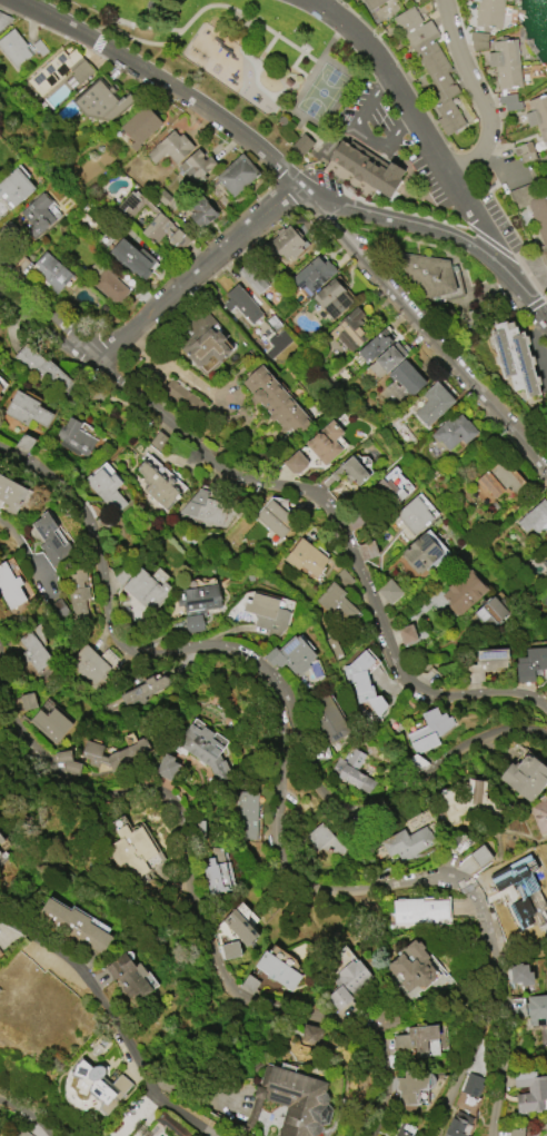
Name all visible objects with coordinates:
building: (371, 3)
building: (150, 4)
road: (200, 4)
building: (488, 13)
building: (3, 19)
road: (237, 23)
road: (143, 24)
building: (13, 48)
park: (239, 58)
road: (314, 61)
road: (290, 65)
building: (431, 67)
building: (58, 70)
building: (507, 70)
road: (253, 75)
road: (161, 81)
park: (320, 90)
road: (479, 92)
road: (335, 98)
building: (100, 101)
building: (537, 116)
road: (418, 119)
building: (139, 126)
road: (308, 132)
road: (358, 136)
building: (298, 142)
road: (330, 142)
building: (170, 148)
building: (524, 151)
building: (196, 166)
building: (367, 166)
road: (298, 172)
building: (237, 175)
building: (13, 187)
building: (201, 211)
building: (534, 211)
building: (37, 215)
building: (150, 220)
road: (435, 231)
building: (286, 244)
building: (132, 258)
road: (193, 270)
building: (50, 271)
building: (312, 274)
building: (252, 277)
building: (431, 277)
building: (107, 283)
building: (331, 298)
building: (241, 304)
road: (46, 314)
road: (46, 327)
road: (421, 327)
building: (349, 330)
building: (205, 343)
building: (370, 349)
building: (514, 357)
building: (387, 359)
building: (42, 371)
building: (406, 377)
road: (196, 384)
building: (2, 385)
building: (180, 396)
building: (272, 399)
building: (432, 404)
building: (26, 409)
building: (546, 424)
building: (546, 431)
building: (454, 432)
building: (73, 438)
building: (325, 443)
building: (295, 462)
building: (349, 471)
building: (500, 480)
building: (157, 485)
building: (390, 485)
building: (106, 488)
building: (11, 495)
building: (205, 507)
building: (412, 515)
building: (275, 518)
building: (535, 522)
road: (344, 526)
building: (50, 543)
building: (365, 550)
road: (24, 551)
building: (422, 551)
building: (305, 557)
building: (543, 559)
building: (10, 586)
building: (145, 590)
building: (388, 591)
building: (78, 593)
building: (461, 594)
building: (336, 604)
building: (197, 605)
building: (489, 612)
building: (266, 615)
building: (406, 633)
building: (32, 651)
building: (289, 655)
building: (530, 663)
building: (88, 664)
building: (486, 664)
building: (362, 682)
building: (143, 690)
road: (287, 697)
building: (22, 702)
building: (326, 719)
building: (50, 724)
building: (428, 734)
building: (203, 749)
building: (112, 753)
building: (64, 761)
building: (166, 767)
building: (352, 771)
building: (525, 778)
road: (412, 787)
building: (470, 801)
building: (246, 812)
building: (539, 813)
building: (1, 839)
building: (324, 841)
building: (407, 842)
building: (131, 849)
building: (2, 859)
building: (473, 860)
building: (216, 870)
road: (191, 891)
building: (520, 892)
building: (419, 910)
building: (240, 923)
building: (74, 925)
building: (229, 949)
building: (0, 952)
road: (64, 956)
building: (412, 966)
building: (277, 970)
building: (519, 974)
building: (128, 977)
building: (348, 984)
building: (537, 1009)
building: (418, 1040)
road: (503, 1040)
road: (469, 1043)
road: (152, 1081)
building: (471, 1085)
building: (411, 1086)
building: (91, 1089)
building: (529, 1091)
building: (292, 1102)
road: (29, 1115)
building: (546, 1118)
building: (171, 1125)
building: (457, 1125)
building: (400, 1132)
building: (517, 1132)
building: (20, 1133)

